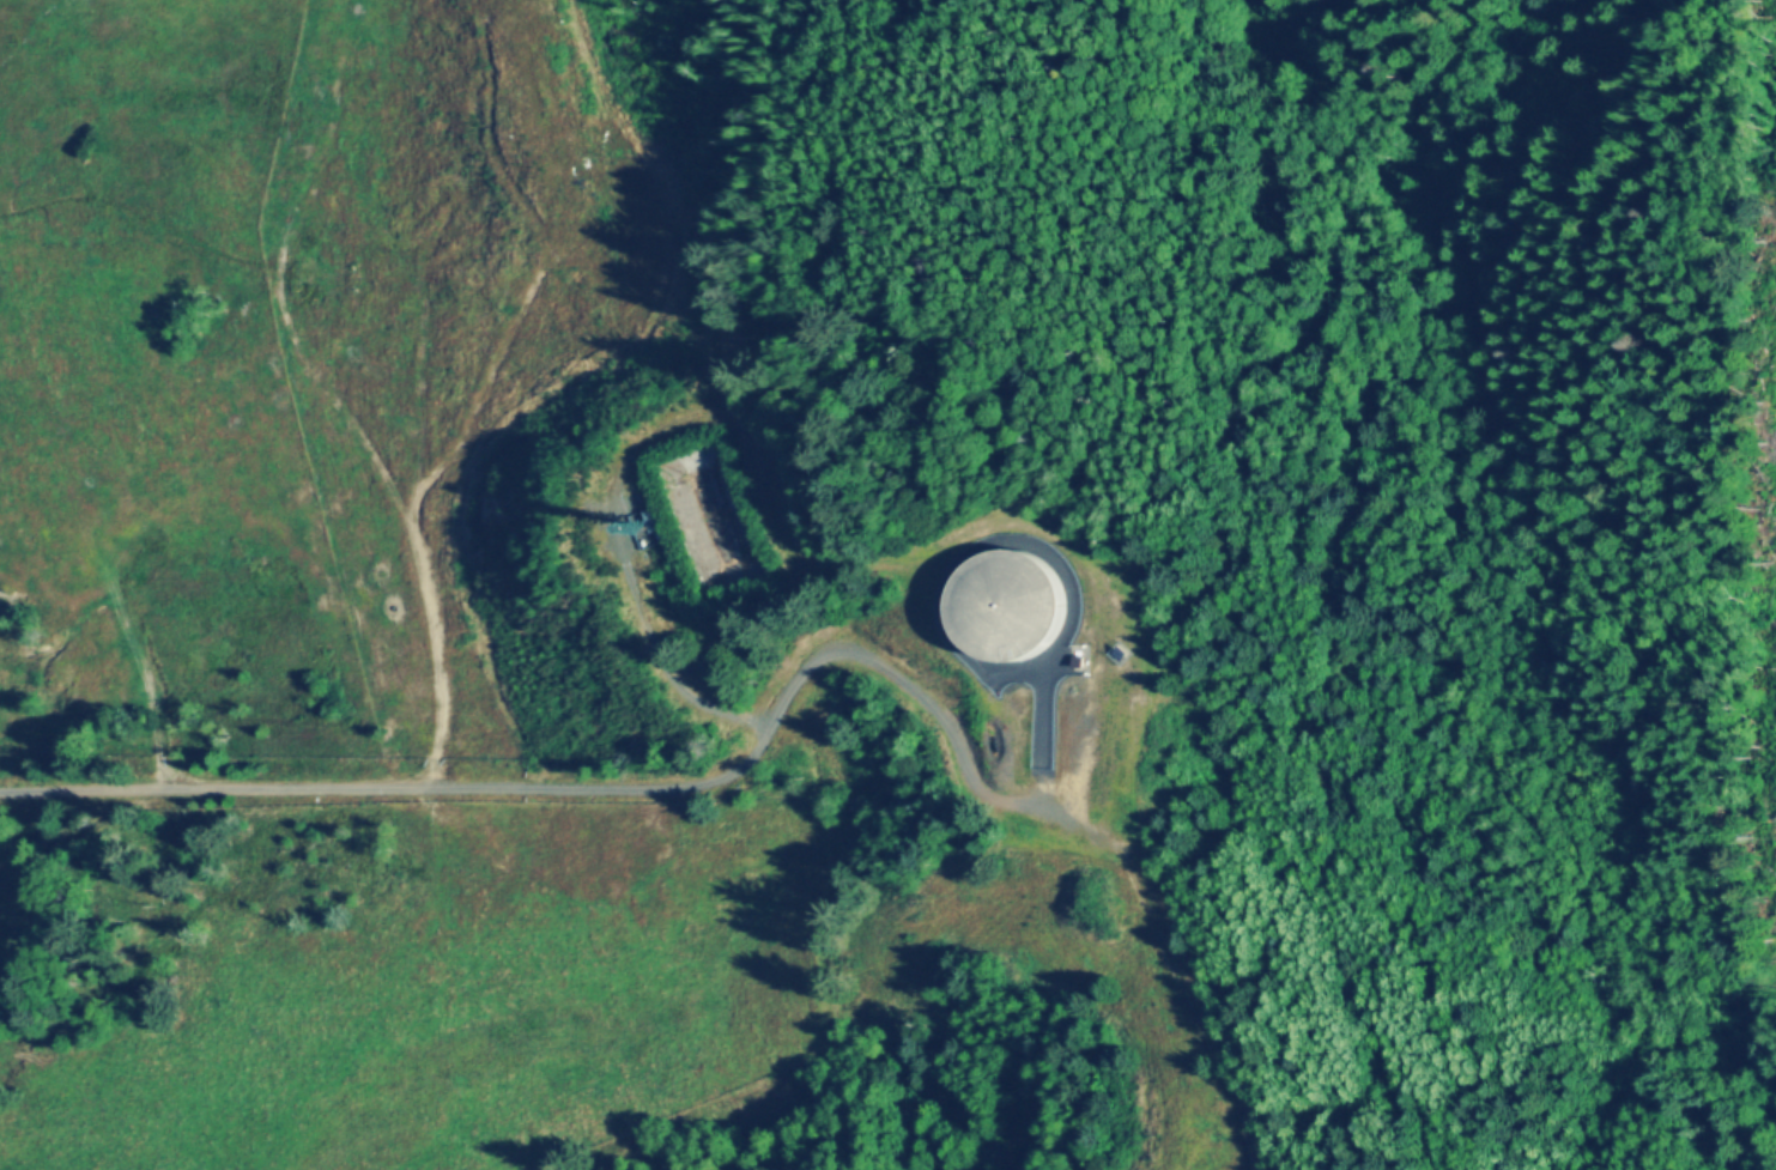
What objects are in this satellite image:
park: (78, 1)
park: (1317, 243)
road: (1296, 568)
building: (1007, 605)
storage tank: (1007, 605)
road: (641, 788)

